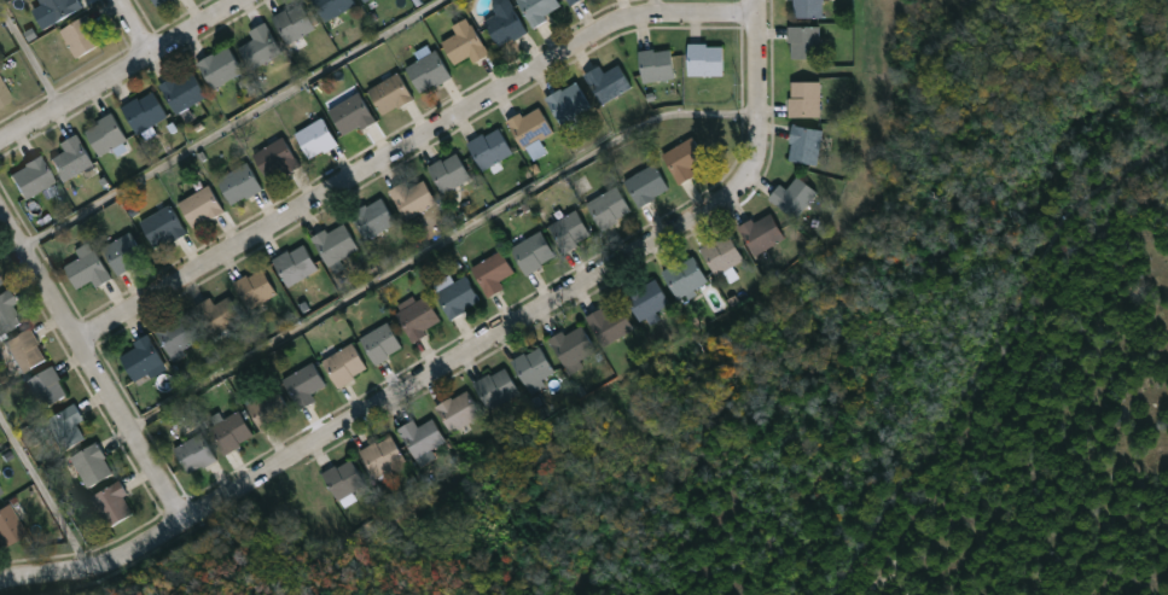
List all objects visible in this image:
building: (365, 0)
building: (827, 0)
building: (156, 1)
building: (571, 1)
building: (333, 6)
road: (650, 6)
building: (58, 7)
building: (807, 7)
building: (535, 8)
building: (292, 22)
building: (504, 22)
road: (138, 25)
building: (79, 34)
building: (803, 40)
building: (463, 41)
building: (258, 45)
building: (703, 58)
road: (28, 62)
building: (655, 63)
building: (217, 65)
building: (426, 66)
road: (122, 70)
building: (606, 80)
building: (389, 92)
building: (181, 93)
building: (2, 94)
building: (803, 97)
building: (566, 100)
building: (141, 111)
building: (350, 112)
road: (226, 122)
building: (529, 129)
building: (105, 134)
building: (315, 135)
road: (409, 142)
building: (804, 142)
building: (488, 146)
building: (273, 156)
building: (682, 157)
building: (71, 158)
building: (447, 171)
building: (30, 176)
building: (237, 182)
building: (645, 182)
building: (792, 196)
building: (409, 197)
building: (198, 205)
building: (608, 205)
building: (371, 217)
building: (161, 224)
building: (568, 229)
building: (760, 232)
building: (332, 245)
building: (121, 251)
building: (531, 251)
building: (720, 255)
building: (292, 263)
building: (86, 266)
road: (442, 268)
building: (492, 270)
building: (684, 273)
building: (0, 280)
building: (252, 287)
building: (455, 294)
building: (646, 299)
building: (6, 311)
building: (216, 315)
building: (414, 316)
building: (608, 322)
building: (175, 334)
building: (379, 340)
building: (571, 346)
building: (22, 348)
building: (141, 357)
road: (465, 357)
road: (92, 360)
building: (339, 361)
building: (531, 368)
building: (302, 383)
building: (43, 385)
building: (494, 386)
building: (265, 407)
building: (457, 409)
building: (60, 426)
building: (227, 430)
building: (419, 437)
building: (194, 453)
building: (379, 455)
building: (87, 463)
building: (341, 478)
road: (43, 483)
building: (0, 494)
building: (110, 502)
building: (7, 525)

